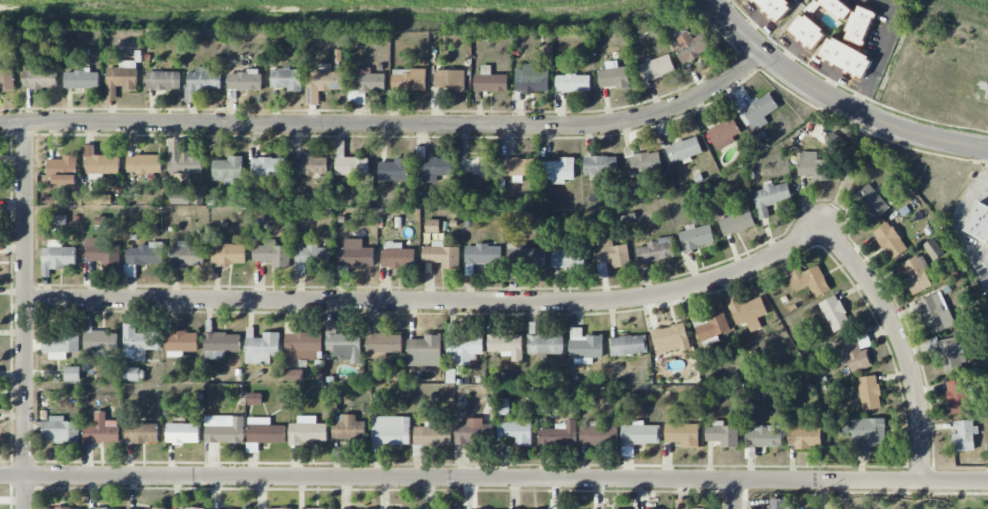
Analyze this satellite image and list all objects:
road: (720, 2)
building: (775, 7)
building: (832, 7)
road: (757, 16)
building: (859, 25)
building: (807, 31)
building: (688, 45)
road: (801, 51)
road: (793, 52)
road: (881, 52)
building: (845, 57)
building: (656, 68)
road: (827, 69)
building: (614, 76)
road: (839, 76)
building: (40, 77)
building: (121, 78)
building: (286, 78)
building: (81, 79)
building: (409, 79)
building: (532, 79)
building: (163, 80)
building: (244, 80)
building: (367, 80)
building: (450, 80)
building: (7, 81)
building: (490, 81)
building: (202, 82)
building: (573, 83)
building: (323, 84)
road: (836, 100)
building: (756, 111)
road: (389, 123)
building: (724, 132)
building: (683, 150)
building: (183, 159)
building: (642, 161)
building: (99, 162)
building: (144, 164)
building: (350, 164)
building: (599, 164)
building: (310, 165)
building: (268, 166)
building: (518, 166)
building: (813, 166)
building: (433, 168)
building: (228, 169)
building: (63, 170)
building: (394, 170)
building: (559, 170)
building: (770, 197)
building: (182, 198)
building: (872, 201)
building: (736, 222)
building: (978, 222)
building: (432, 226)
building: (696, 237)
building: (890, 240)
building: (933, 248)
building: (655, 251)
building: (103, 252)
building: (144, 254)
building: (229, 254)
building: (272, 254)
building: (483, 254)
building: (186, 255)
building: (441, 255)
building: (312, 256)
building: (353, 256)
building: (397, 256)
building: (57, 257)
building: (611, 257)
building: (526, 258)
building: (569, 258)
building: (917, 274)
building: (808, 279)
road: (433, 302)
building: (747, 312)
building: (936, 312)
building: (834, 313)
road: (25, 315)
building: (713, 327)
building: (670, 338)
building: (99, 339)
building: (137, 343)
building: (181, 343)
building: (384, 343)
road: (901, 344)
building: (59, 345)
building: (220, 345)
building: (545, 345)
building: (628, 345)
building: (506, 346)
building: (261, 347)
building: (303, 347)
building: (345, 347)
building: (585, 347)
building: (463, 349)
building: (425, 351)
building: (946, 353)
building: (856, 355)
building: (72, 374)
building: (134, 374)
building: (293, 375)
building: (869, 392)
building: (957, 396)
building: (254, 399)
building: (503, 406)
building: (348, 428)
building: (224, 429)
building: (60, 430)
building: (102, 430)
building: (307, 430)
building: (264, 431)
building: (470, 431)
building: (141, 432)
building: (389, 432)
building: (182, 433)
building: (515, 433)
building: (598, 434)
building: (640, 434)
building: (683, 434)
building: (721, 434)
building: (867, 434)
building: (432, 435)
building: (559, 435)
building: (763, 436)
building: (804, 436)
building: (964, 436)
road: (494, 478)
road: (735, 494)
park: (900, 501)
building: (778, 503)
building: (683, 504)
building: (61, 508)
building: (101, 508)
building: (157, 508)
building: (195, 508)
building: (277, 508)

